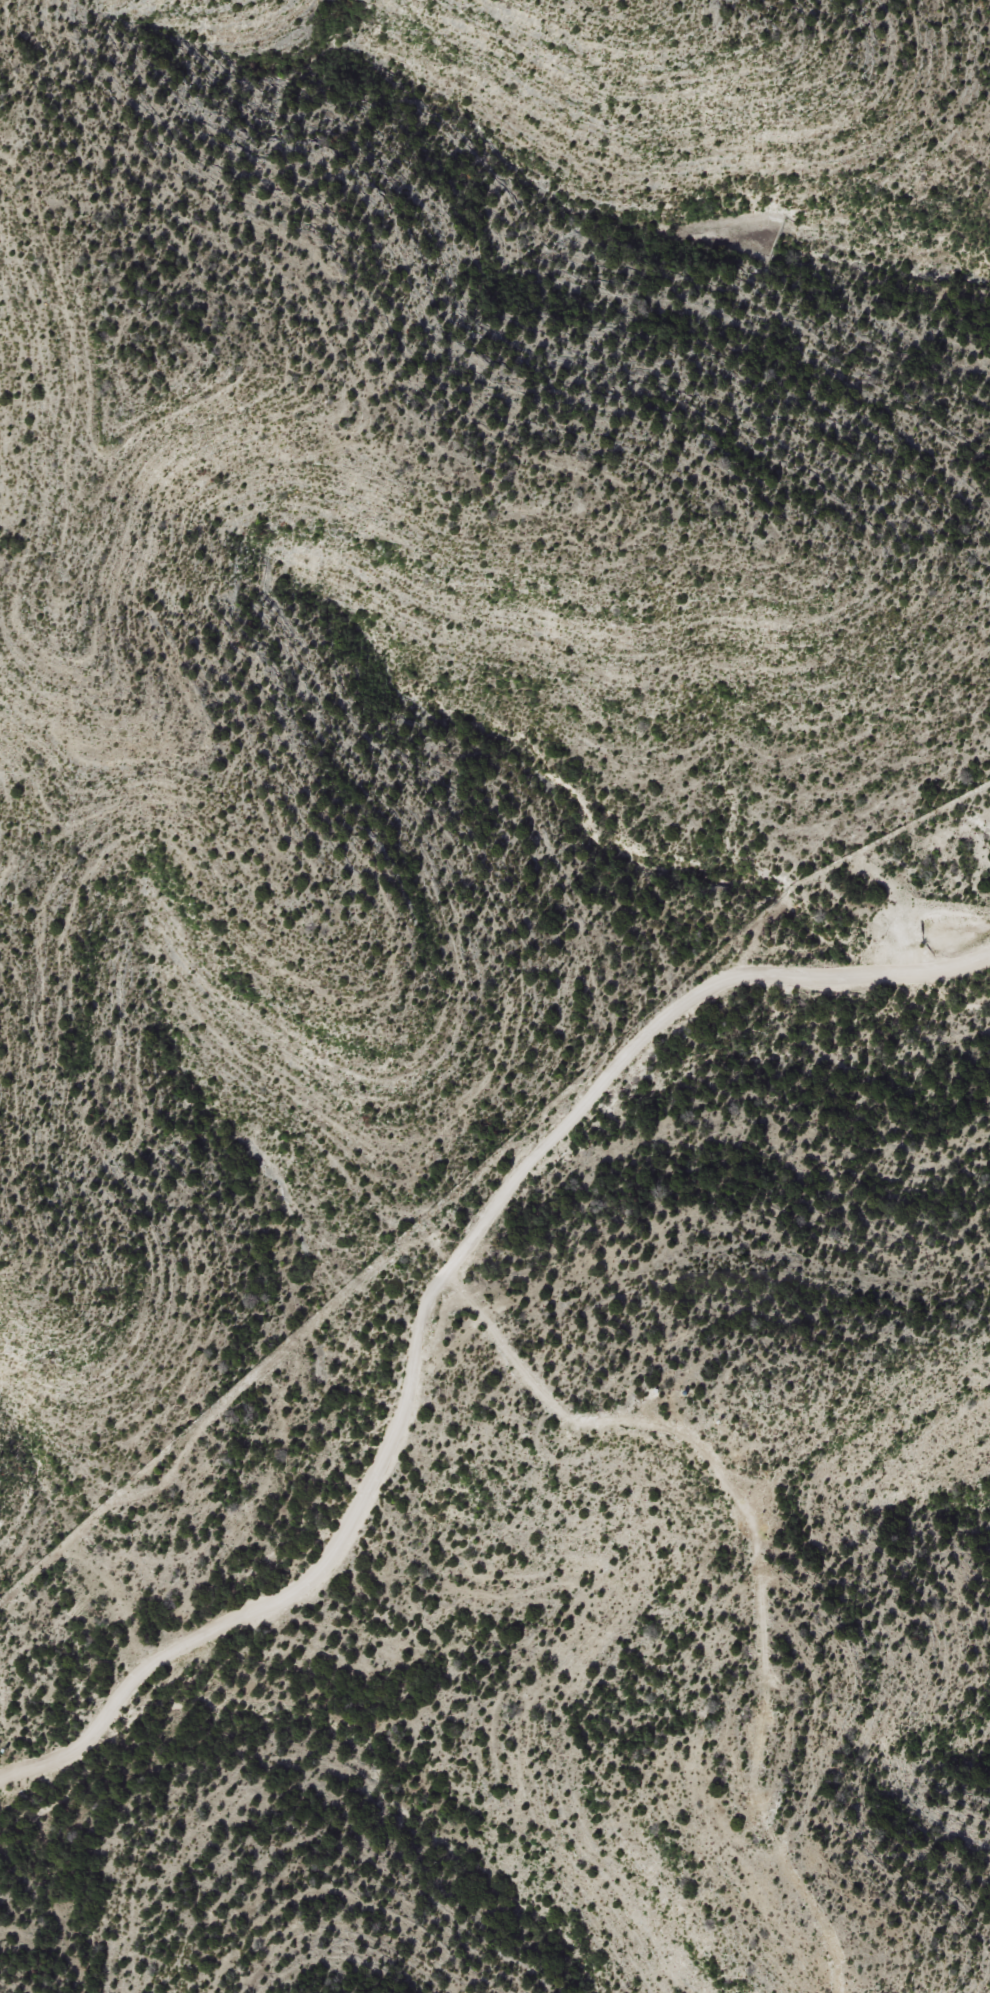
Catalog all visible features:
road: (431, 1299)

